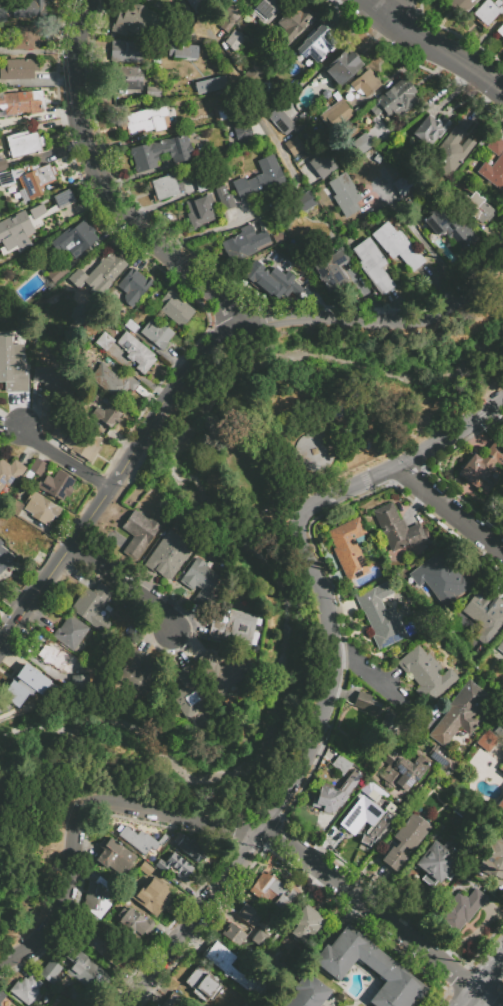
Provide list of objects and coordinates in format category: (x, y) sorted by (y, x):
building: (145, 0)
building: (146, 0)
building: (156, 5)
building: (460, 5)
road: (389, 7)
building: (266, 8)
building: (26, 11)
building: (238, 11)
building: (488, 11)
building: (181, 14)
building: (3, 16)
building: (130, 19)
building: (293, 23)
building: (500, 30)
building: (27, 38)
building: (234, 40)
building: (315, 43)
road: (431, 47)
building: (129, 51)
building: (182, 51)
building: (342, 66)
building: (17, 70)
building: (253, 77)
building: (129, 81)
building: (365, 82)
building: (209, 84)
road: (500, 86)
building: (190, 88)
building: (154, 93)
building: (269, 93)
building: (395, 100)
building: (16, 103)
building: (221, 113)
building: (336, 114)
building: (148, 120)
building: (280, 121)
building: (430, 130)
building: (241, 131)
building: (23, 143)
building: (295, 147)
building: (160, 151)
building: (450, 152)
building: (3, 164)
building: (321, 164)
building: (493, 164)
building: (38, 179)
building: (6, 180)
building: (259, 180)
building: (162, 181)
building: (202, 184)
building: (404, 185)
road: (110, 188)
building: (169, 190)
building: (344, 195)
building: (63, 198)
building: (223, 198)
building: (305, 202)
road: (278, 206)
building: (473, 208)
building: (37, 210)
building: (198, 212)
building: (323, 225)
building: (448, 227)
building: (15, 232)
building: (75, 238)
building: (269, 239)
building: (234, 240)
building: (397, 245)
road: (426, 245)
building: (373, 265)
building: (109, 266)
building: (329, 268)
building: (272, 272)
building: (58, 275)
building: (79, 278)
building: (135, 288)
building: (174, 307)
road: (410, 321)
building: (131, 326)
building: (156, 334)
building: (104, 342)
building: (136, 353)
building: (88, 359)
building: (12, 366)
building: (50, 380)
building: (114, 383)
building: (107, 413)
building: (57, 433)
building: (82, 444)
building: (310, 450)
road: (64, 461)
road: (128, 463)
building: (37, 466)
building: (482, 467)
building: (10, 473)
building: (57, 485)
building: (40, 508)
road: (452, 510)
building: (396, 528)
building: (138, 534)
building: (21, 535)
building: (349, 549)
building: (169, 557)
building: (5, 561)
building: (442, 577)
building: (200, 581)
road: (124, 584)
building: (92, 605)
building: (485, 613)
building: (380, 615)
building: (235, 627)
building: (70, 633)
building: (500, 646)
building: (59, 658)
road: (367, 671)
building: (221, 672)
building: (426, 674)
building: (133, 675)
building: (29, 682)
building: (79, 682)
building: (188, 693)
building: (366, 704)
building: (458, 713)
building: (387, 733)
building: (485, 740)
road: (314, 748)
building: (442, 759)
building: (482, 760)
building: (340, 764)
building: (501, 767)
building: (402, 771)
building: (349, 783)
building: (502, 798)
building: (326, 799)
building: (369, 814)
building: (163, 838)
building: (138, 840)
building: (404, 841)
building: (189, 848)
building: (114, 856)
building: (492, 859)
building: (178, 862)
building: (435, 864)
building: (273, 890)
building: (149, 891)
building: (96, 898)
building: (462, 911)
building: (248, 915)
road: (377, 917)
road: (192, 920)
building: (133, 922)
building: (305, 924)
building: (234, 934)
building: (106, 946)
building: (345, 954)
building: (232, 968)
building: (83, 969)
building: (50, 971)
road: (484, 982)
building: (204, 984)
building: (394, 985)
building: (25, 988)
building: (307, 992)
building: (2, 996)
building: (74, 996)
building: (175, 1001)
building: (0, 1004)

